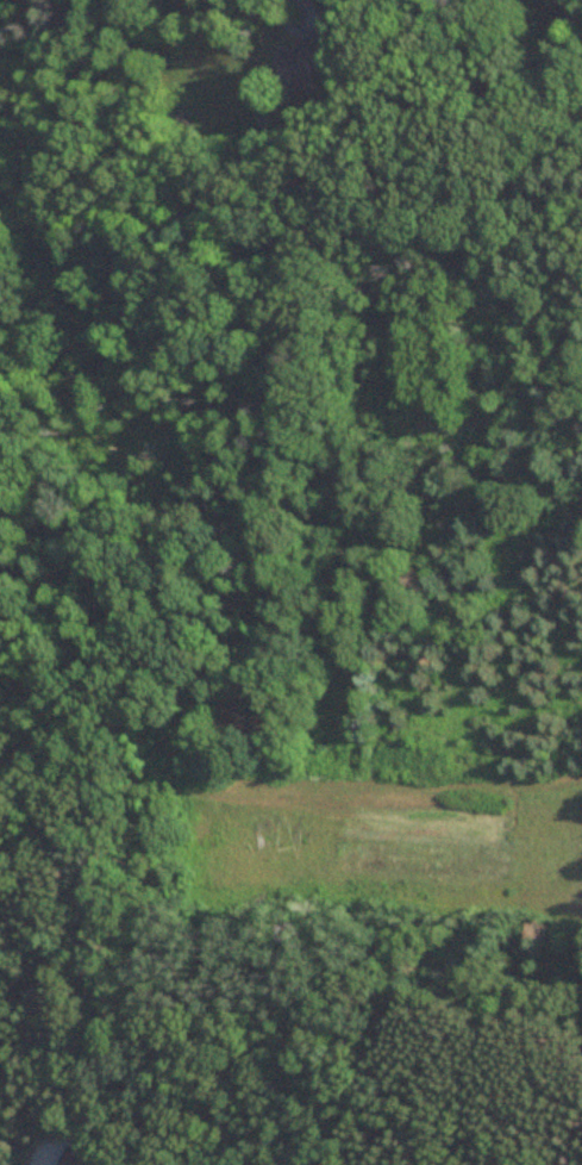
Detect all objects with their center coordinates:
road: (292, 8)
building: (302, 69)
building: (80, 1157)
road: (42, 1163)

